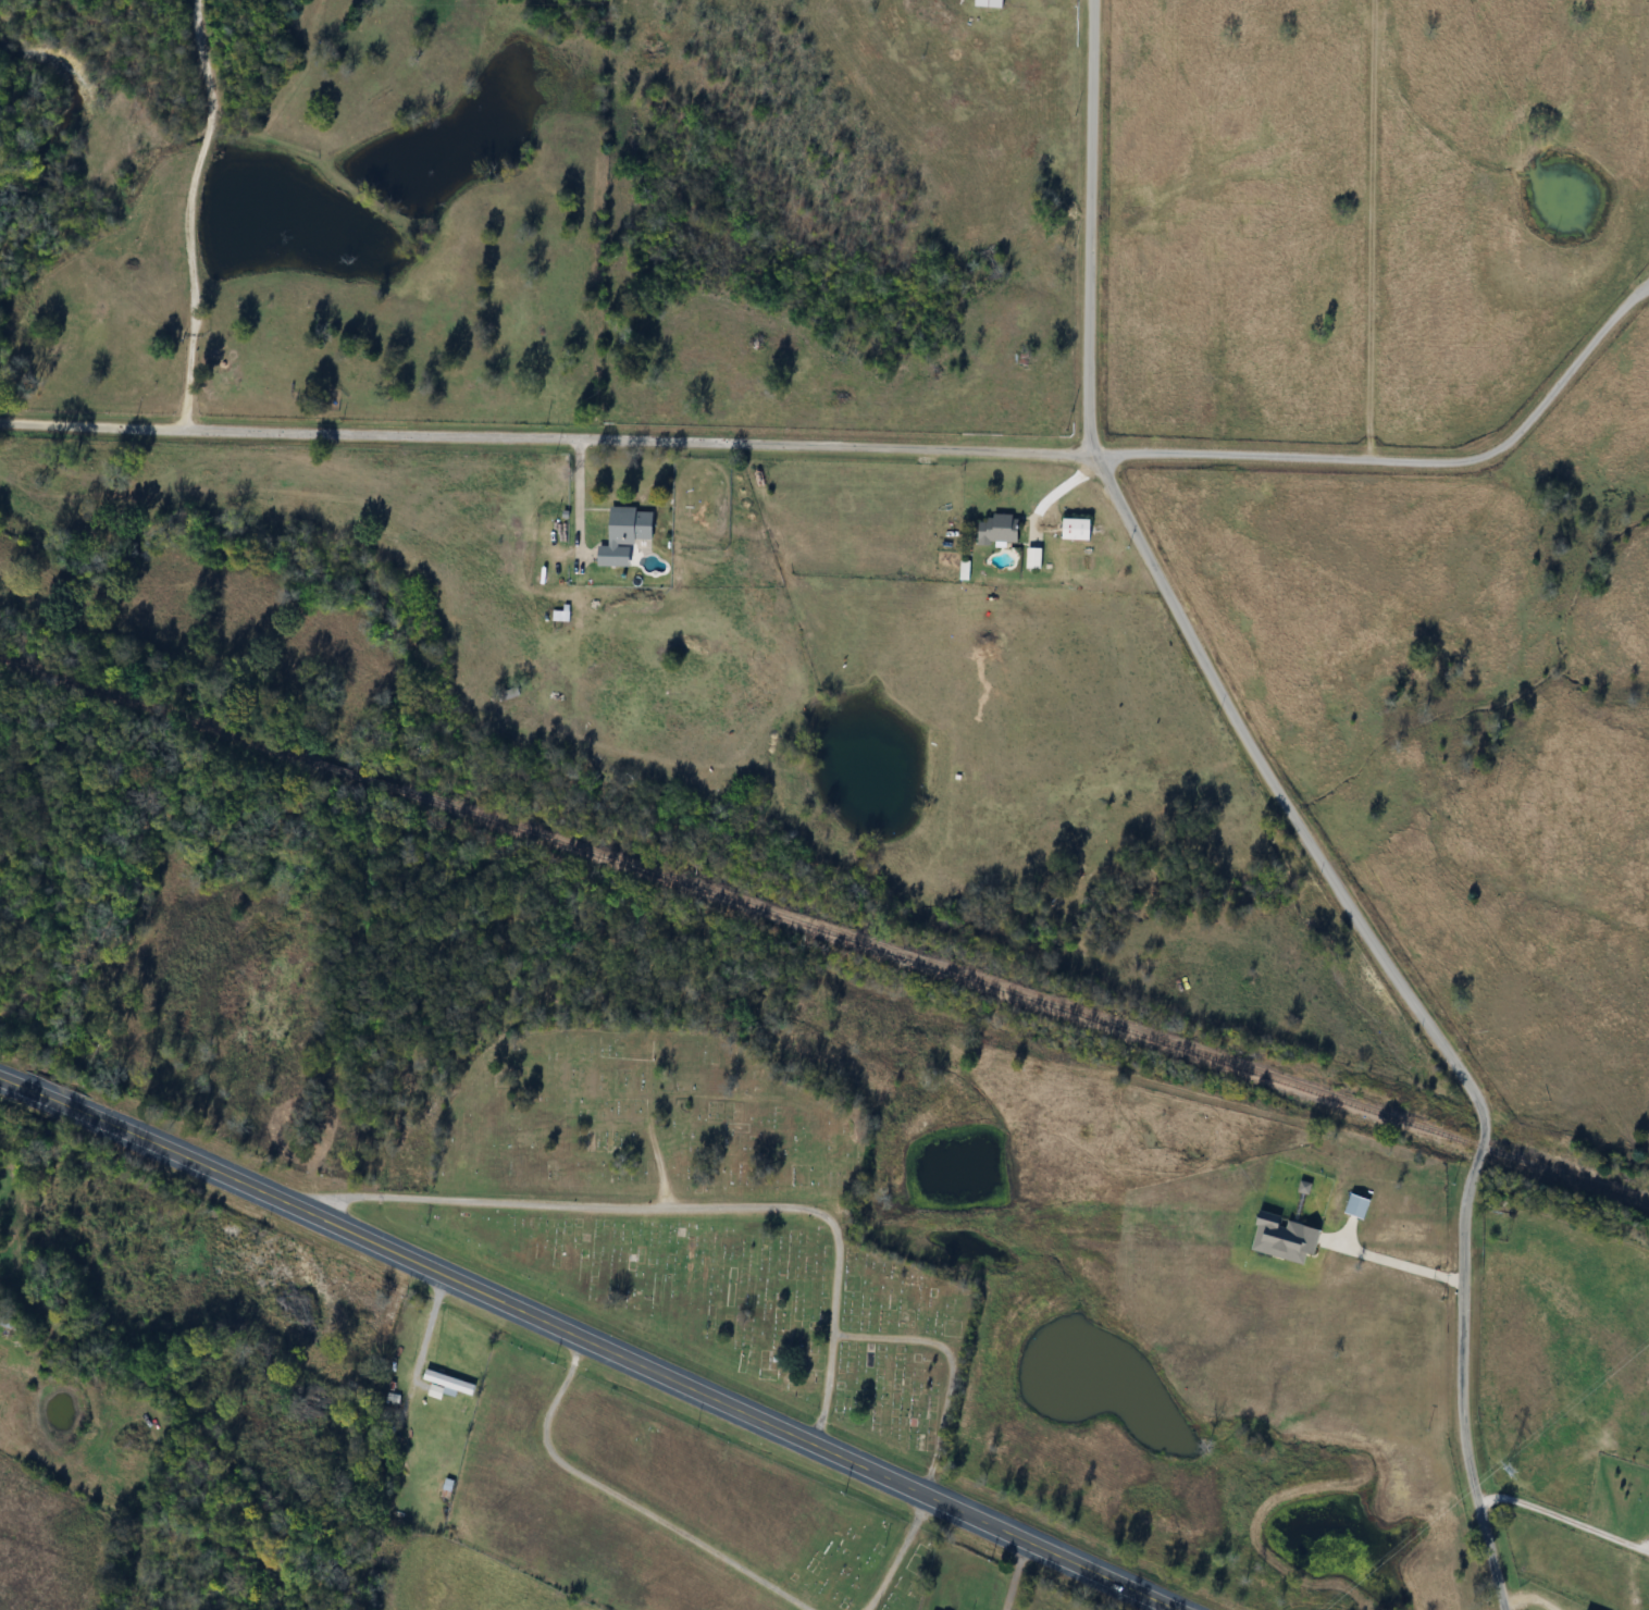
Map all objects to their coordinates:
road: (187, 213)
road: (1090, 227)
road: (548, 438)
road: (1410, 462)
road: (580, 503)
building: (1078, 529)
building: (1000, 530)
building: (628, 532)
building: (1036, 558)
railway: (825, 930)
road: (1411, 1005)
road: (682, 1206)
park: (699, 1212)
road: (1396, 1260)
road: (421, 1323)
road: (586, 1337)
road: (945, 1366)
building: (448, 1385)
power tower: (1515, 1470)
park: (659, 1507)
road: (1563, 1516)
road: (1012, 1576)

